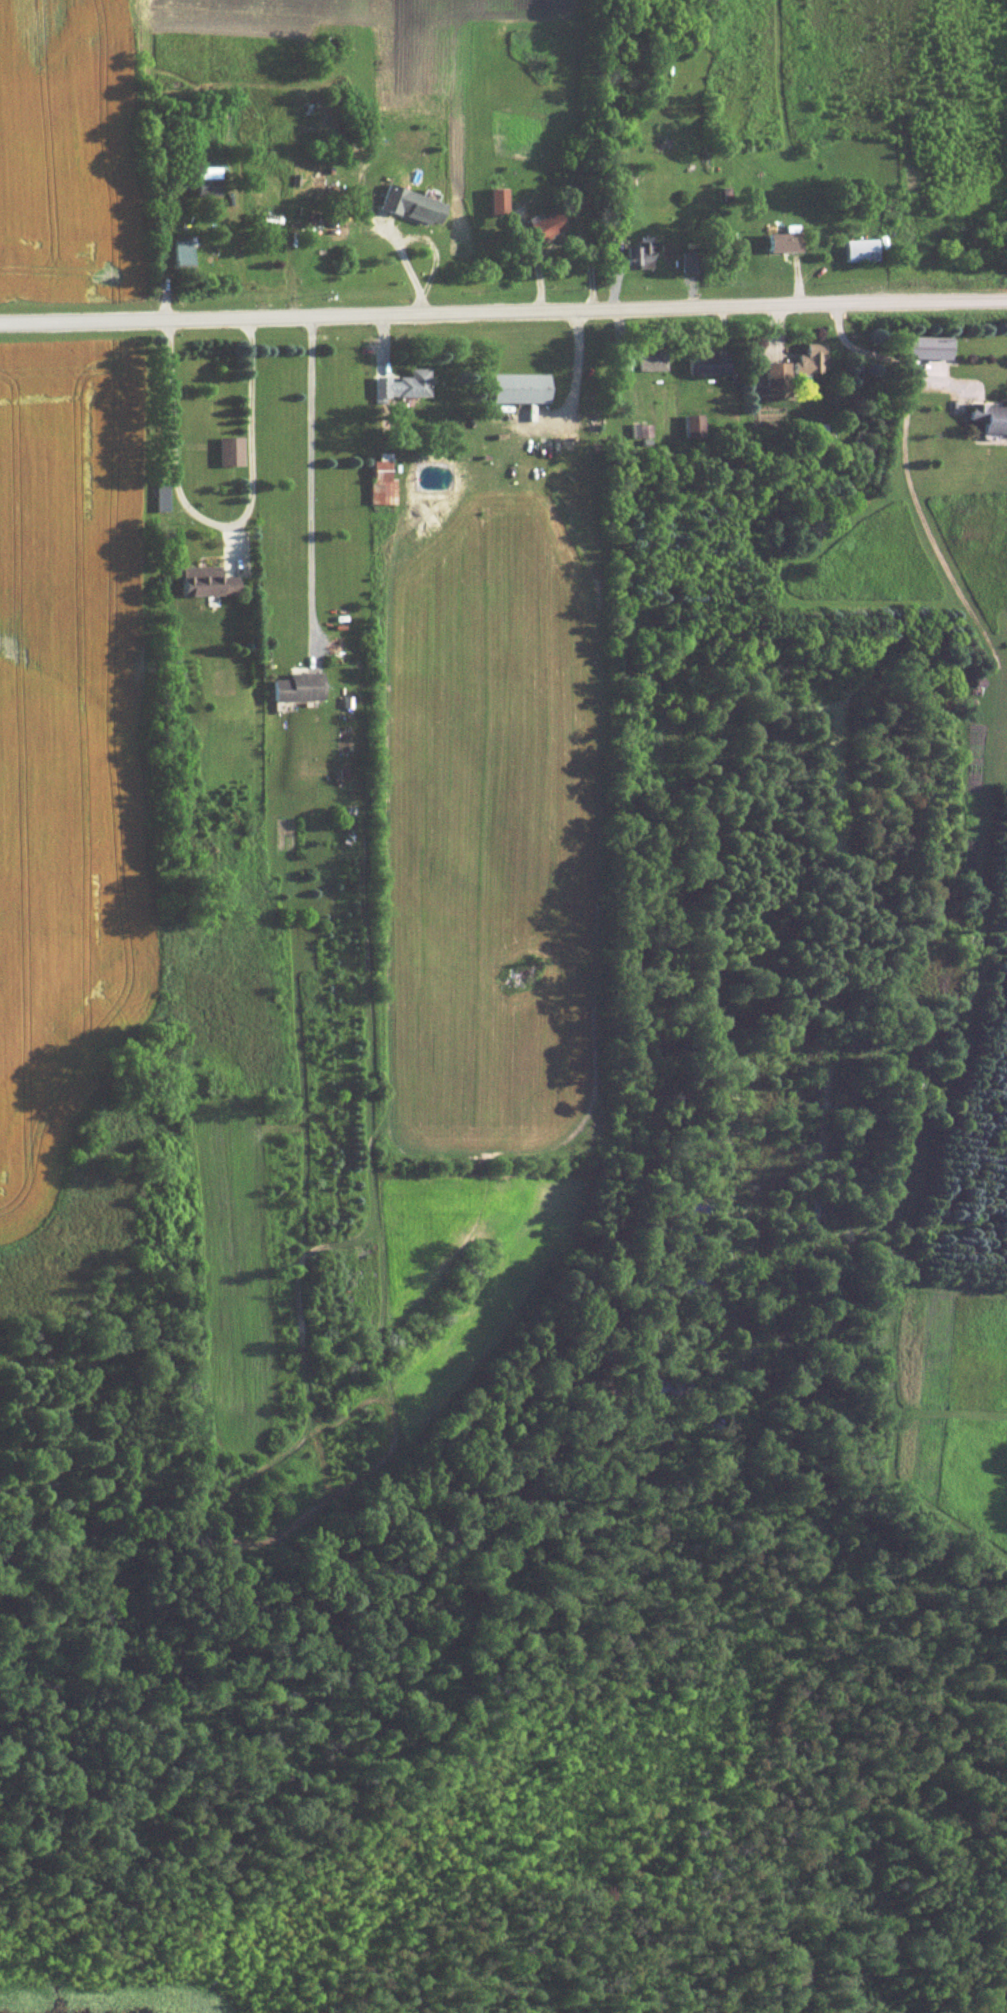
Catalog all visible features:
building: (206, 178)
building: (499, 198)
building: (412, 203)
building: (549, 223)
building: (785, 239)
building: (861, 248)
building: (183, 251)
building: (642, 252)
building: (692, 261)
road: (503, 314)
building: (929, 346)
building: (812, 357)
building: (653, 360)
building: (709, 362)
building: (777, 377)
building: (404, 384)
building: (520, 386)
building: (990, 415)
building: (693, 423)
building: (640, 429)
building: (231, 449)
building: (383, 480)
building: (206, 580)
building: (299, 685)

